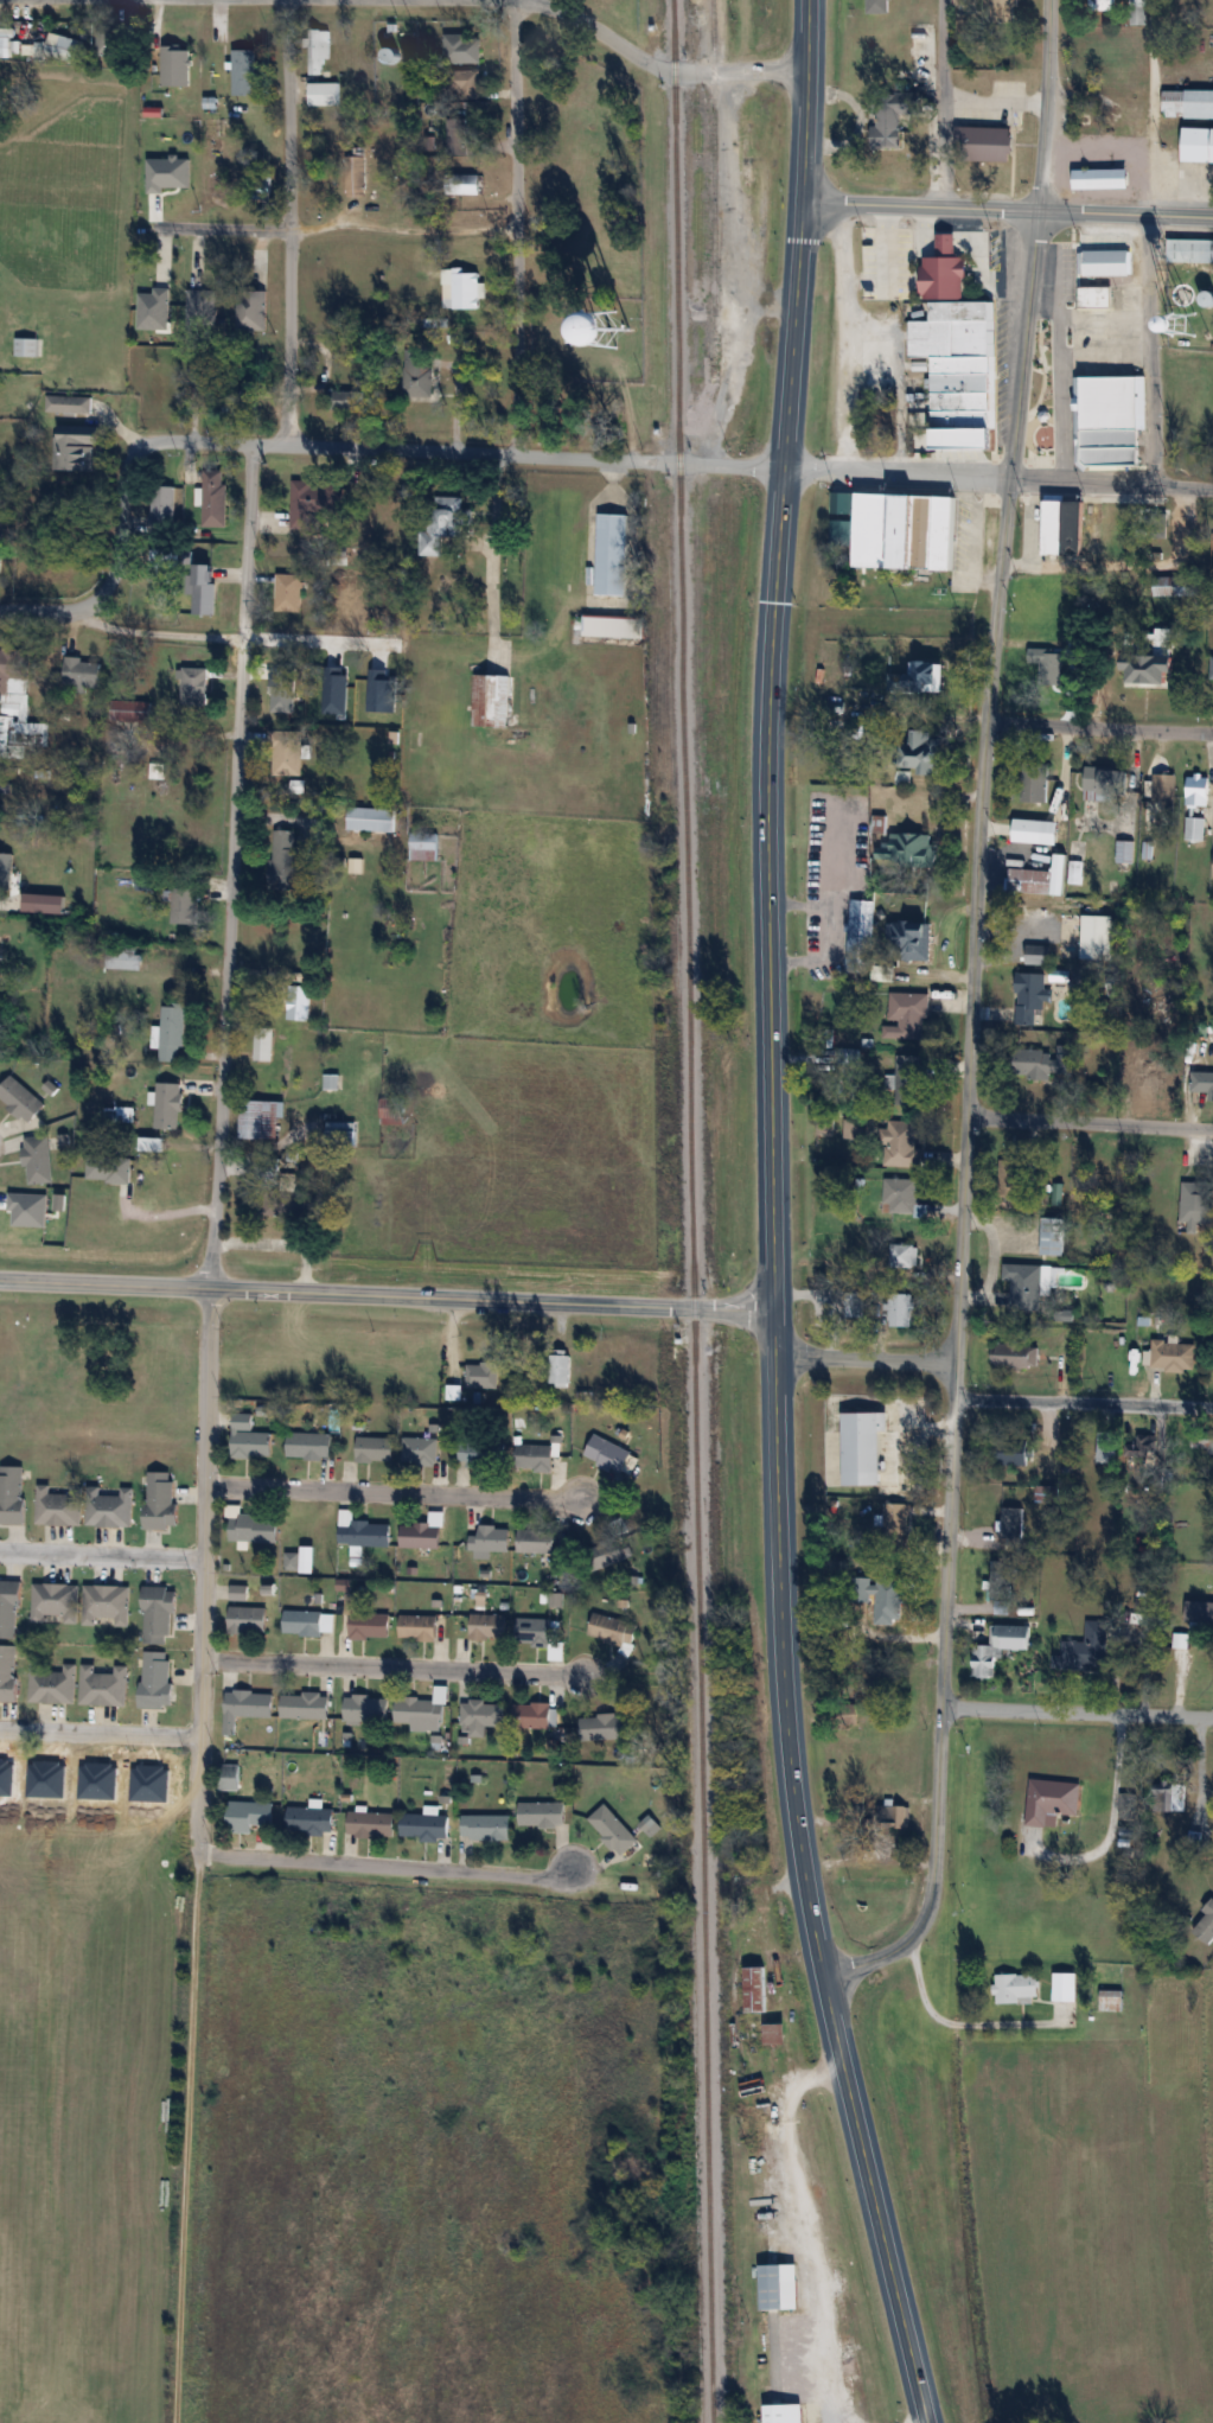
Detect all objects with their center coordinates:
building: (962, 1)
building: (1004, 2)
building: (1105, 5)
building: (877, 6)
building: (1137, 12)
building: (218, 32)
building: (922, 38)
building: (114, 45)
building: (5, 46)
building: (65, 47)
building: (461, 47)
building: (317, 51)
building: (391, 56)
road: (657, 65)
building: (174, 66)
building: (243, 72)
building: (464, 83)
building: (323, 94)
road: (990, 100)
road: (934, 102)
building: (1188, 104)
road: (1045, 106)
building: (890, 116)
building: (458, 135)
road: (1094, 144)
building: (985, 145)
building: (1196, 145)
building: (357, 171)
building: (1086, 178)
building: (468, 184)
road: (920, 204)
road: (736, 208)
road: (1124, 215)
road: (288, 223)
road: (337, 225)
road: (515, 228)
road: (1150, 242)
building: (1190, 250)
building: (1107, 262)
building: (945, 272)
building: (464, 291)
building: (1182, 294)
building: (1096, 306)
building: (251, 310)
road: (845, 337)
road: (1023, 345)
building: (26, 347)
building: (735, 363)
building: (959, 372)
road: (1052, 372)
building: (168, 375)
building: (416, 376)
building: (235, 397)
building: (346, 401)
building: (69, 404)
building: (1112, 421)
building: (74, 436)
road: (442, 453)
road: (1111, 483)
building: (215, 499)
building: (313, 503)
building: (162, 508)
building: (441, 524)
building: (1064, 524)
building: (901, 529)
road: (493, 547)
building: (612, 553)
building: (1175, 586)
building: (204, 589)
building: (288, 593)
road: (593, 600)
building: (614, 625)
road: (160, 632)
road: (308, 638)
building: (1051, 669)
building: (1151, 669)
building: (283, 670)
building: (82, 675)
building: (920, 677)
building: (194, 686)
building: (491, 700)
building: (17, 706)
building: (132, 710)
road: (1100, 725)
building: (285, 752)
building: (925, 752)
building: (155, 771)
building: (1107, 783)
building: (5, 788)
building: (1035, 790)
building: (1198, 790)
building: (1164, 792)
building: (371, 818)
building: (1195, 828)
building: (1035, 830)
building: (423, 846)
building: (908, 847)
building: (1124, 850)
building: (285, 859)
building: (1075, 861)
road: (230, 866)
building: (1032, 880)
building: (185, 905)
road: (977, 922)
building: (860, 932)
building: (1097, 937)
building: (909, 939)
building: (1039, 954)
road: (768, 994)
building: (1029, 996)
building: (298, 1002)
building: (907, 1015)
building: (172, 1032)
building: (263, 1044)
building: (1041, 1063)
building: (1153, 1075)
building: (907, 1079)
building: (331, 1080)
building: (1201, 1080)
building: (20, 1099)
building: (168, 1105)
building: (391, 1108)
building: (261, 1118)
road: (1090, 1124)
building: (853, 1129)
building: (340, 1133)
building: (900, 1143)
building: (38, 1160)
building: (267, 1163)
building: (108, 1167)
building: (1020, 1177)
building: (1105, 1178)
building: (902, 1198)
building: (1195, 1203)
building: (292, 1204)
railway: (691, 1211)
building: (1053, 1238)
building: (904, 1256)
building: (1029, 1284)
road: (392, 1296)
building: (900, 1309)
building: (1013, 1353)
building: (1173, 1356)
road: (863, 1359)
building: (560, 1372)
building: (481, 1375)
road: (1084, 1402)
building: (250, 1439)
building: (1206, 1442)
building: (309, 1446)
building: (1106, 1446)
building: (1141, 1446)
building: (375, 1449)
building: (419, 1449)
building: (1010, 1450)
building: (607, 1453)
building: (481, 1454)
building: (534, 1459)
road: (392, 1492)
building: (1046, 1493)
building: (12, 1494)
building: (161, 1501)
building: (59, 1506)
building: (108, 1507)
building: (895, 1517)
building: (1013, 1528)
building: (254, 1529)
building: (362, 1531)
building: (422, 1533)
building: (491, 1541)
building: (536, 1541)
building: (606, 1552)
road: (102, 1555)
building: (300, 1561)
road: (203, 1570)
building: (1001, 1580)
building: (887, 1600)
building: (56, 1603)
building: (106, 1605)
building: (9, 1609)
building: (159, 1615)
building: (1195, 1618)
building: (248, 1619)
building: (307, 1622)
building: (370, 1625)
building: (417, 1626)
building: (487, 1626)
building: (612, 1630)
building: (534, 1632)
building: (1000, 1647)
building: (1087, 1649)
road: (392, 1666)
building: (7, 1672)
building: (157, 1679)
building: (52, 1684)
building: (103, 1685)
road: (941, 1702)
building: (305, 1704)
building: (245, 1707)
building: (366, 1709)
building: (422, 1711)
road: (1077, 1711)
building: (532, 1715)
building: (480, 1716)
building: (602, 1727)
road: (100, 1733)
road: (1201, 1774)
building: (230, 1777)
building: (1180, 1797)
building: (1051, 1802)
building: (1130, 1806)
building: (250, 1813)
building: (542, 1815)
building: (892, 1817)
building: (311, 1819)
building: (371, 1824)
road: (1111, 1825)
building: (426, 1826)
building: (486, 1828)
building: (612, 1829)
road: (384, 1868)
building: (1205, 1925)
building: (1064, 1987)
building: (1016, 1988)
building: (755, 1990)
building: (1111, 2001)
road: (939, 2014)
building: (771, 2034)
road: (187, 2138)
road: (876, 2204)
road: (802, 2225)
building: (779, 2288)
building: (784, 2414)

